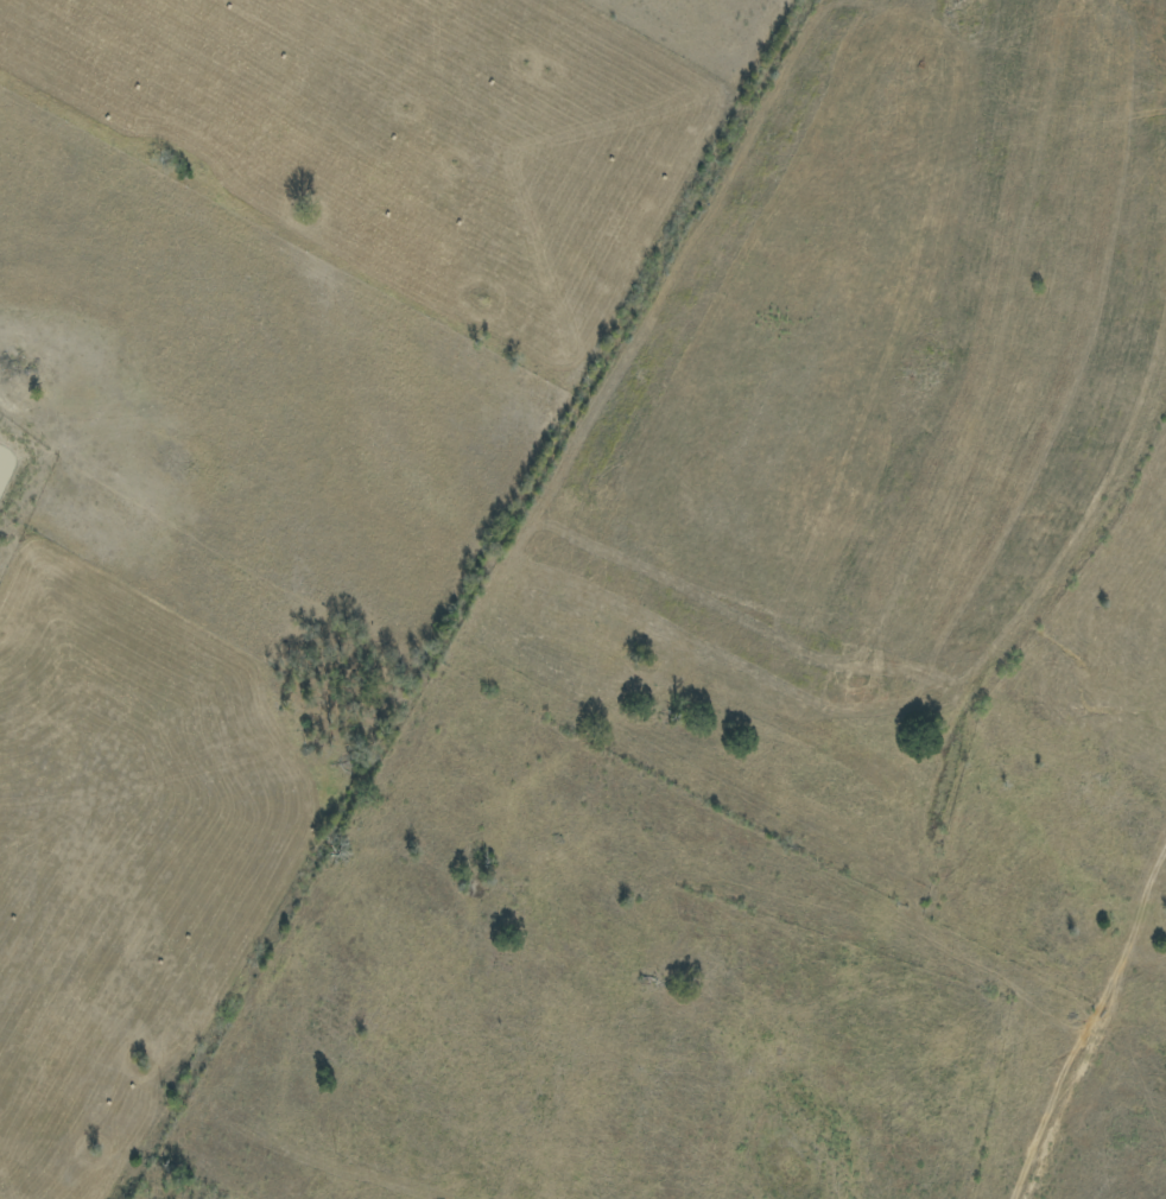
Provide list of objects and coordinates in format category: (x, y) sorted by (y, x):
road: (486, 599)
road: (1124, 1003)

